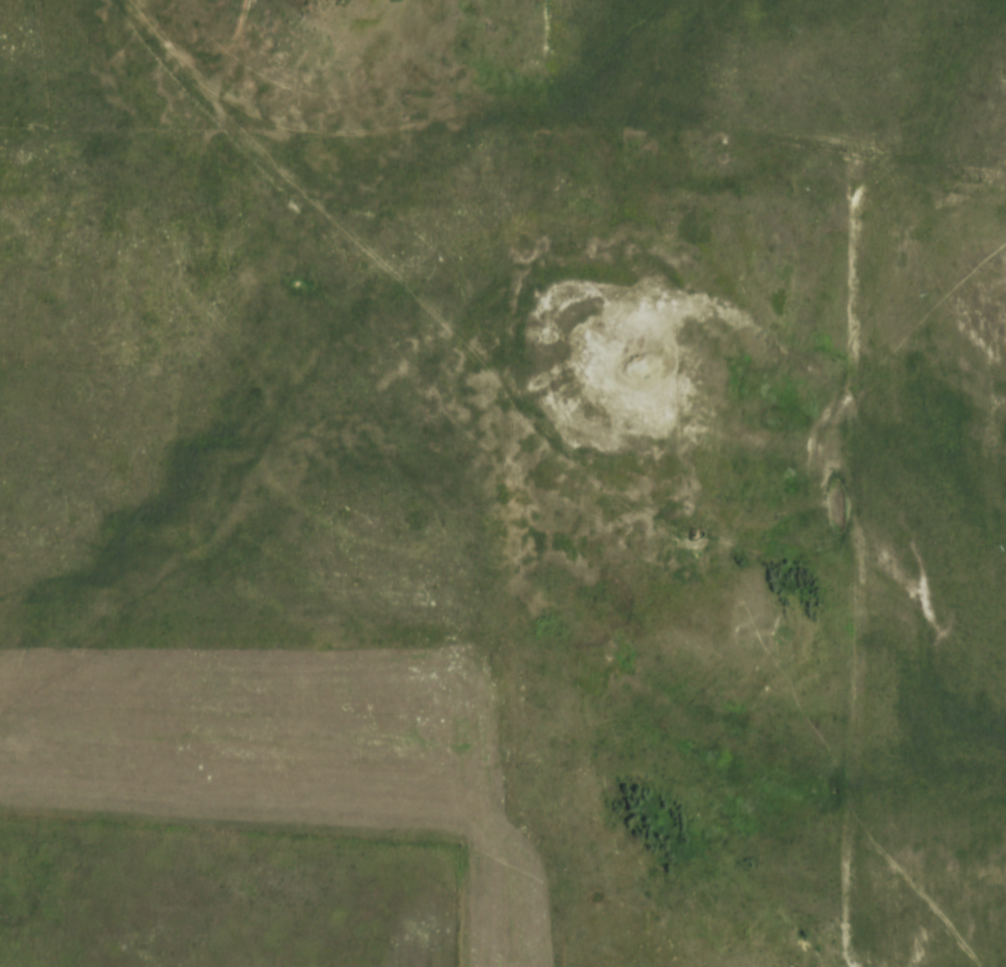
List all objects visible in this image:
road: (543, 120)
road: (516, 517)

